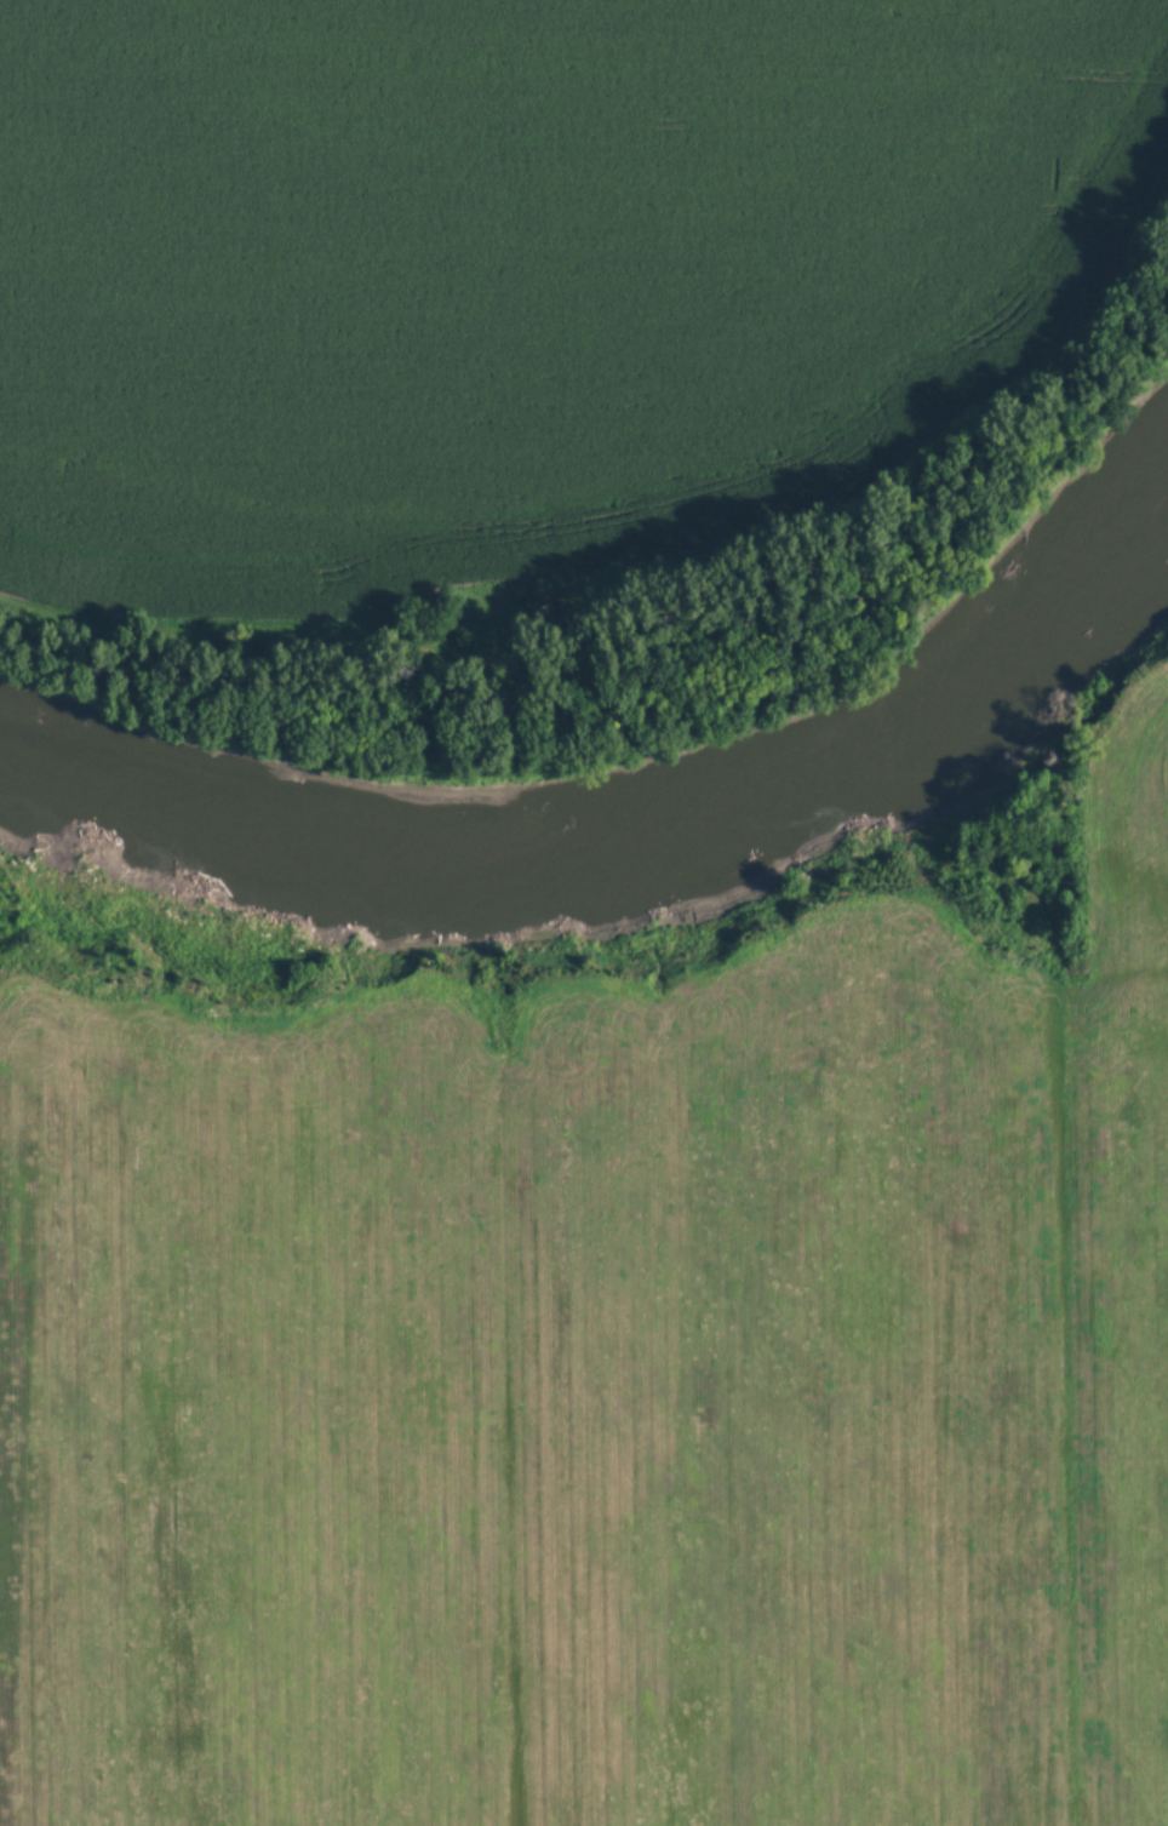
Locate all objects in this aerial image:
river: (634, 837)

